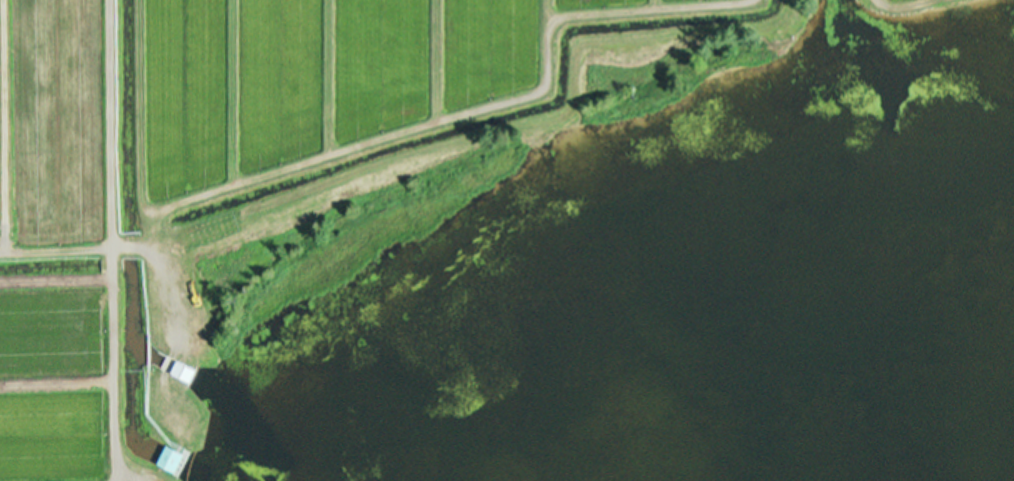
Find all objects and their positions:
crop: (319, 168)
building: (181, 372)
building: (168, 459)

